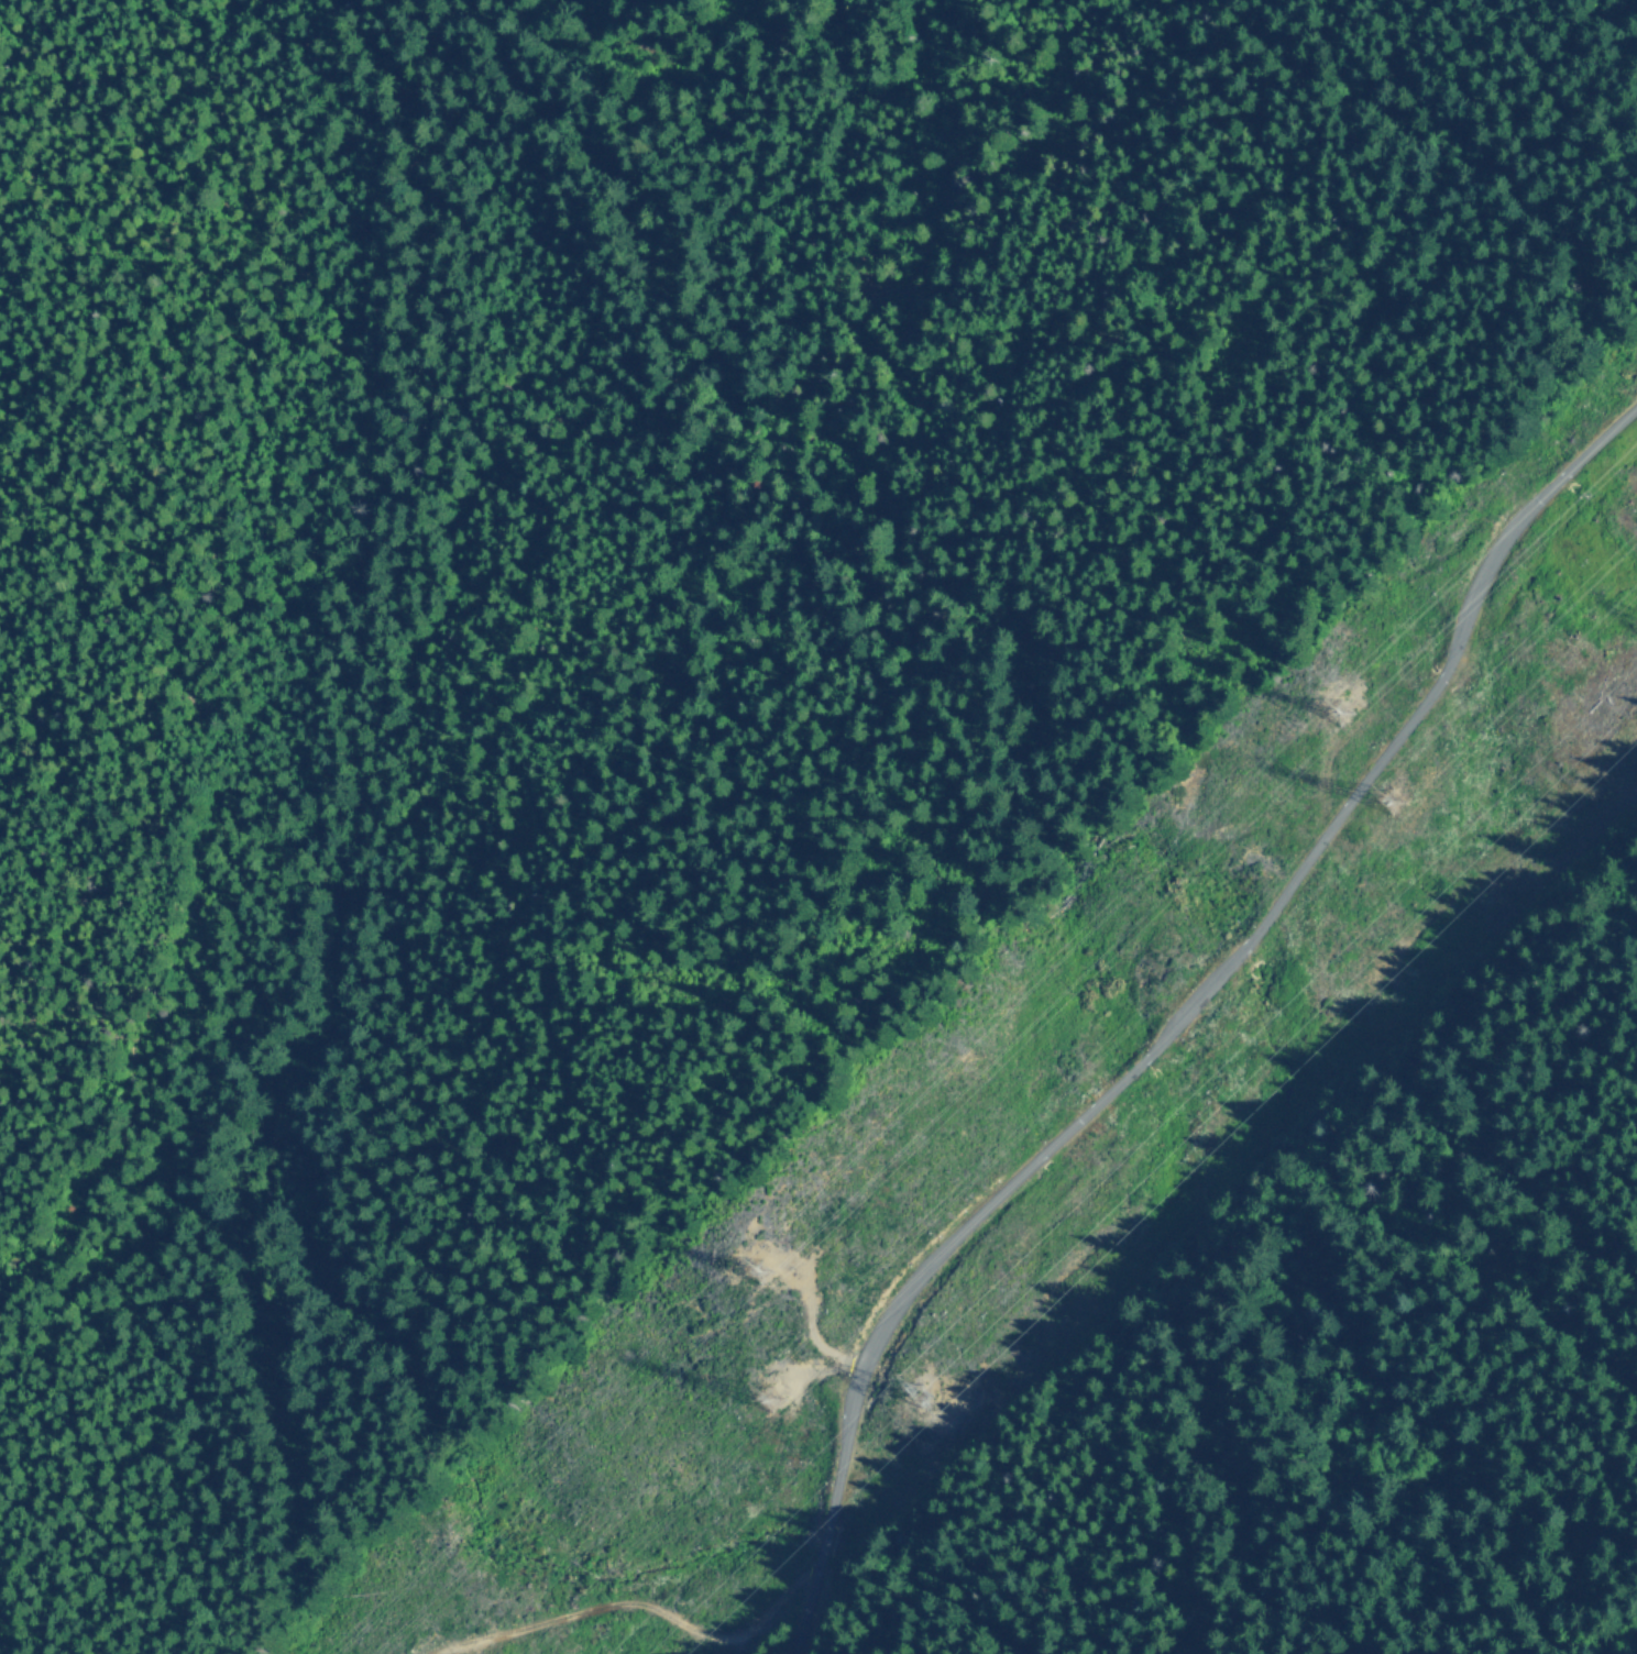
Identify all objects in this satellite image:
power tower: (1333, 712)
power tower: (1404, 807)
road: (1179, 1016)
power tower: (776, 1269)
power tower: (766, 1399)
power tower: (925, 1404)

